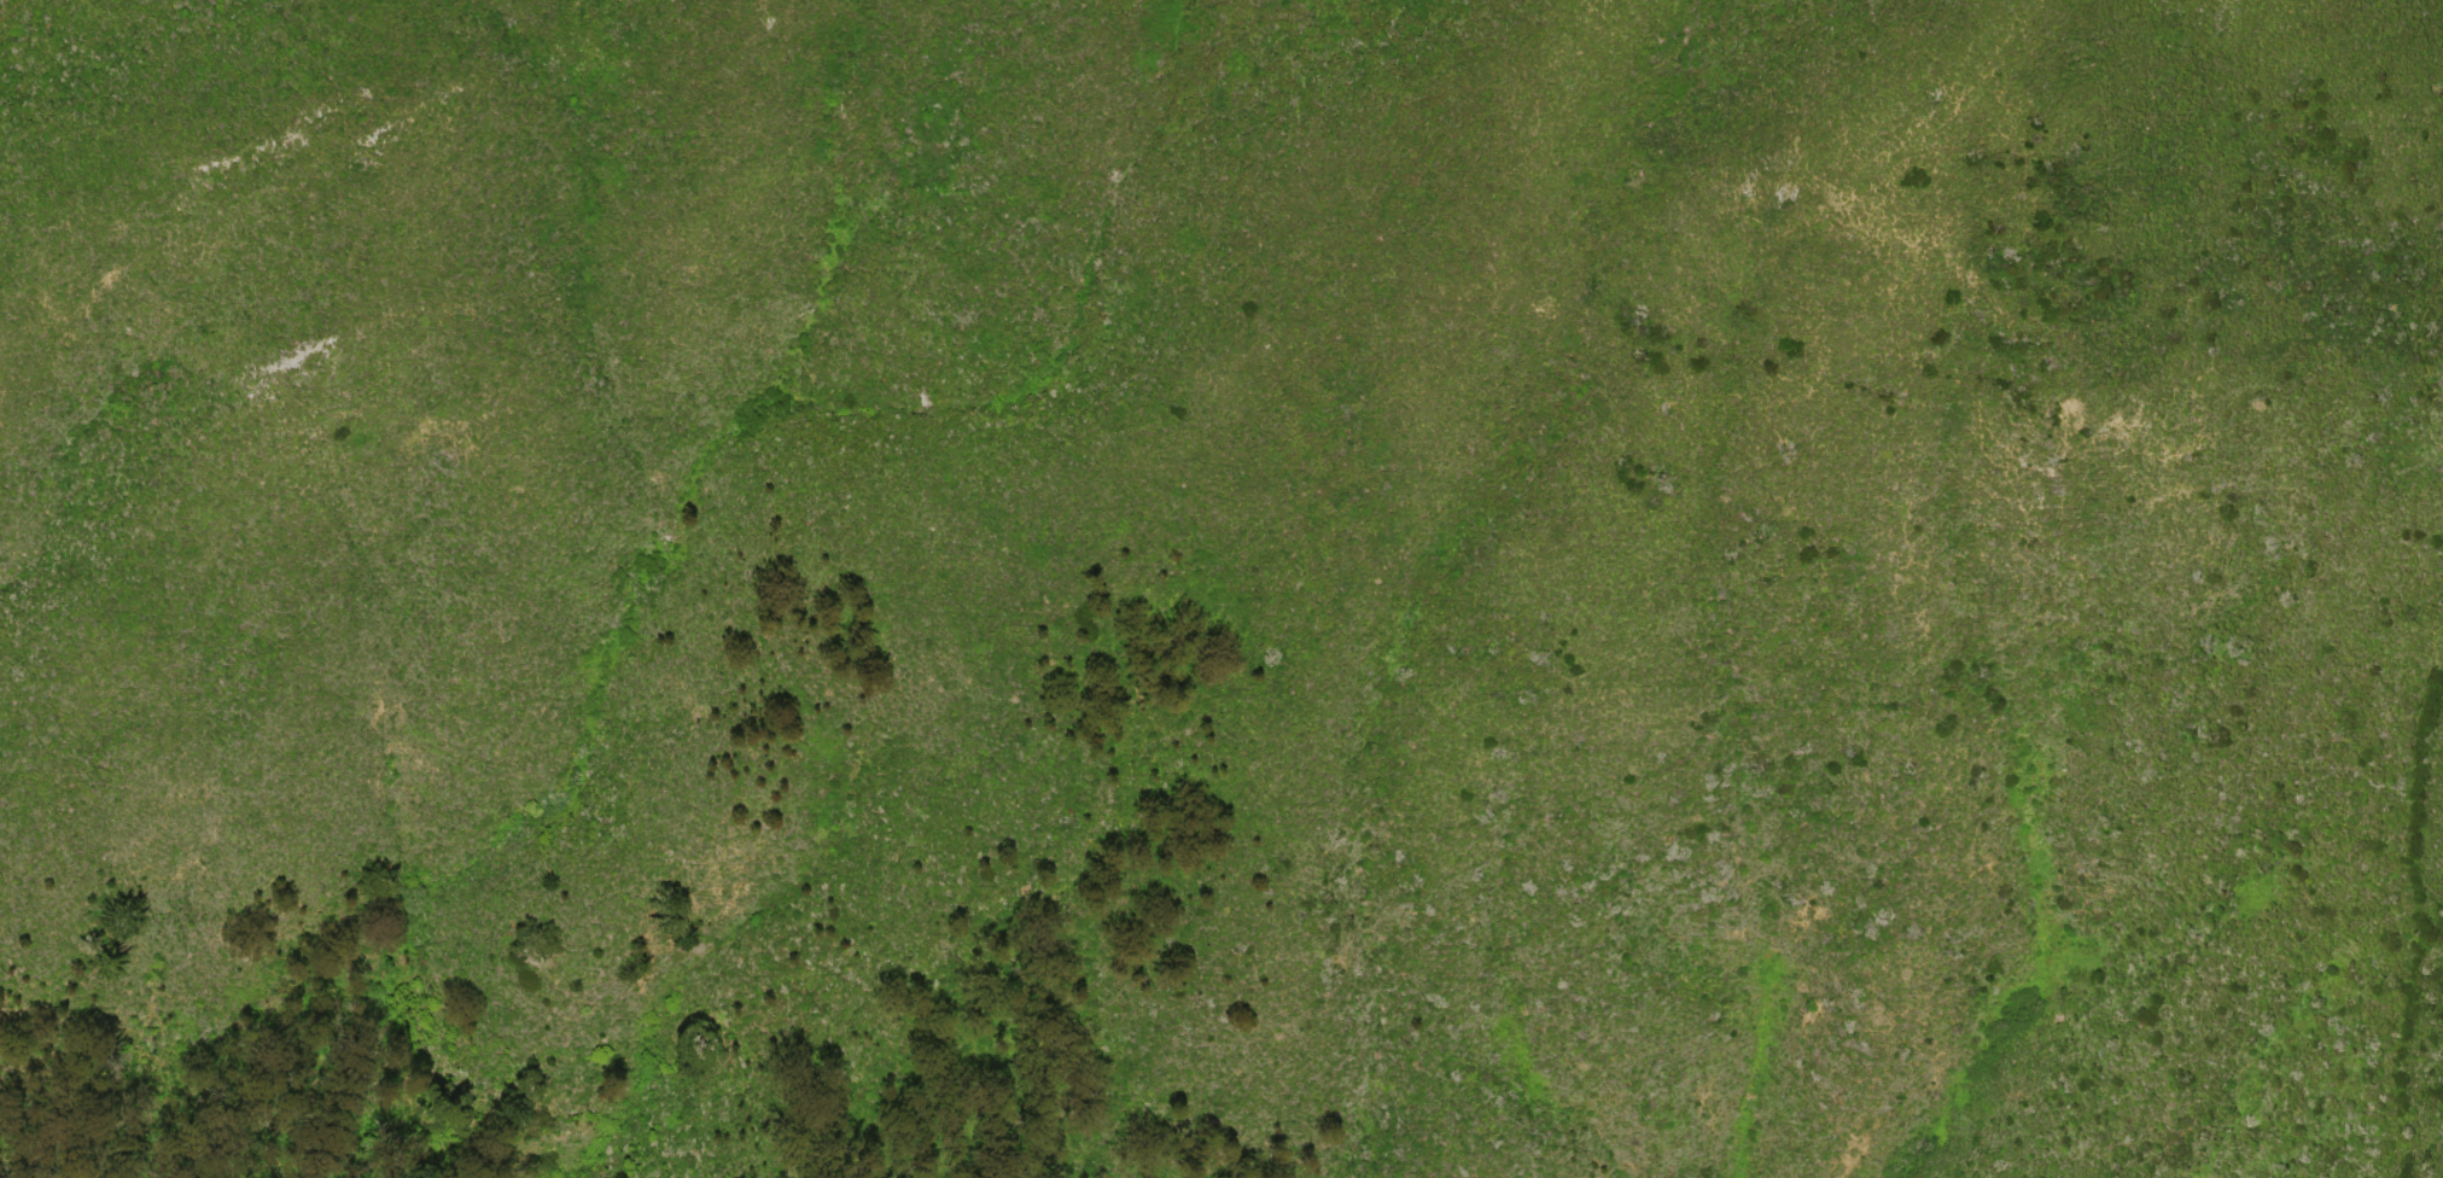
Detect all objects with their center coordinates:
road: (2419, 352)
park: (1399, 503)

